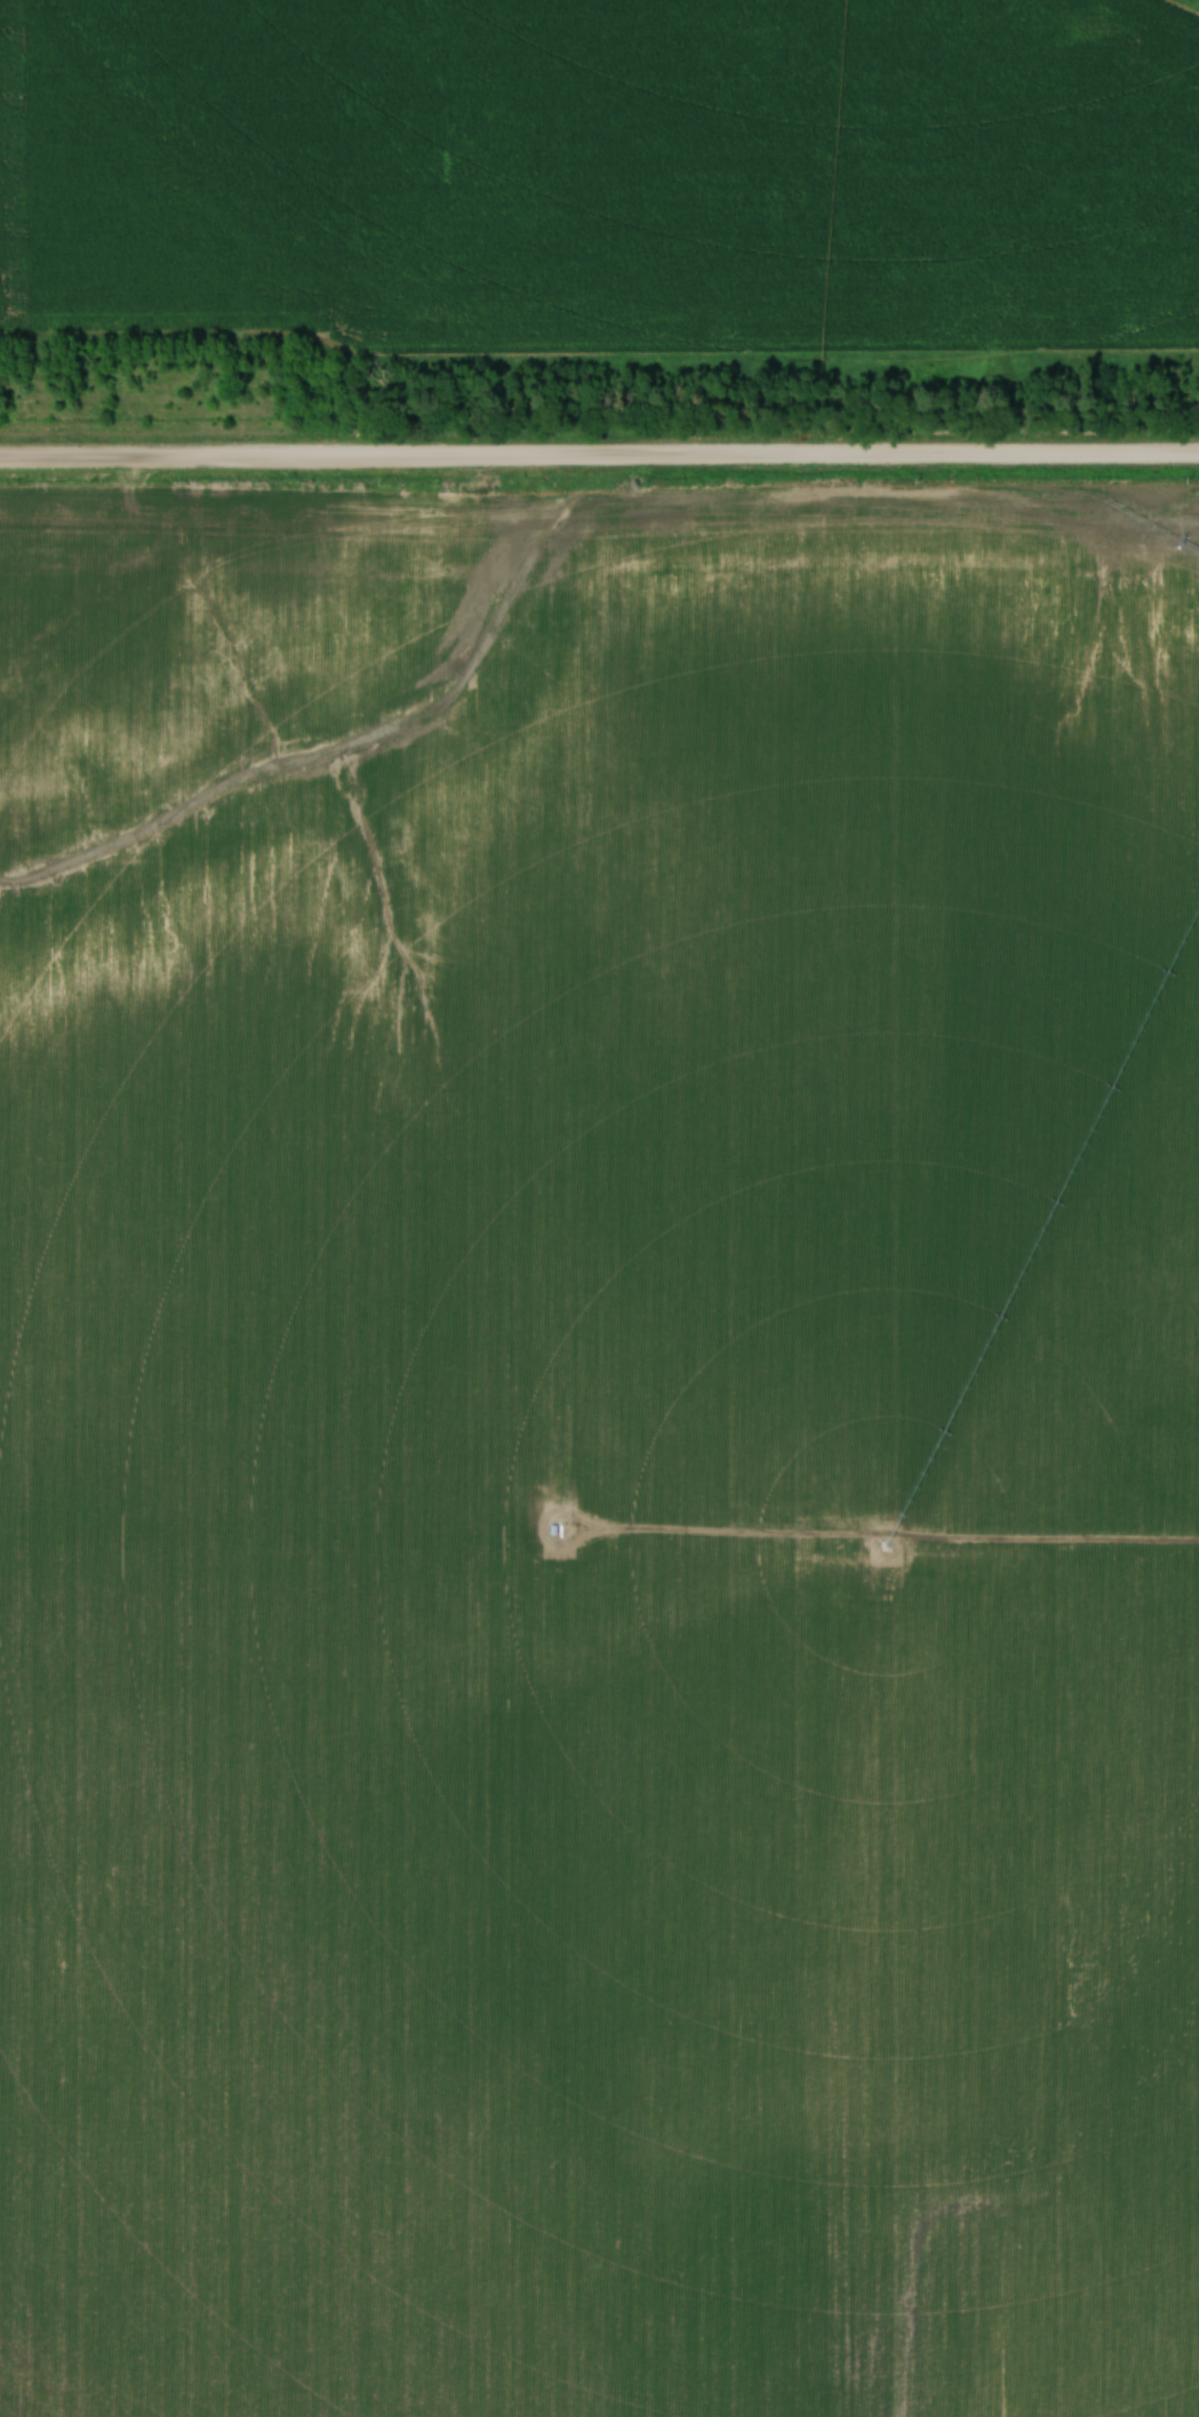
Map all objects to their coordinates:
road: (599, 465)

